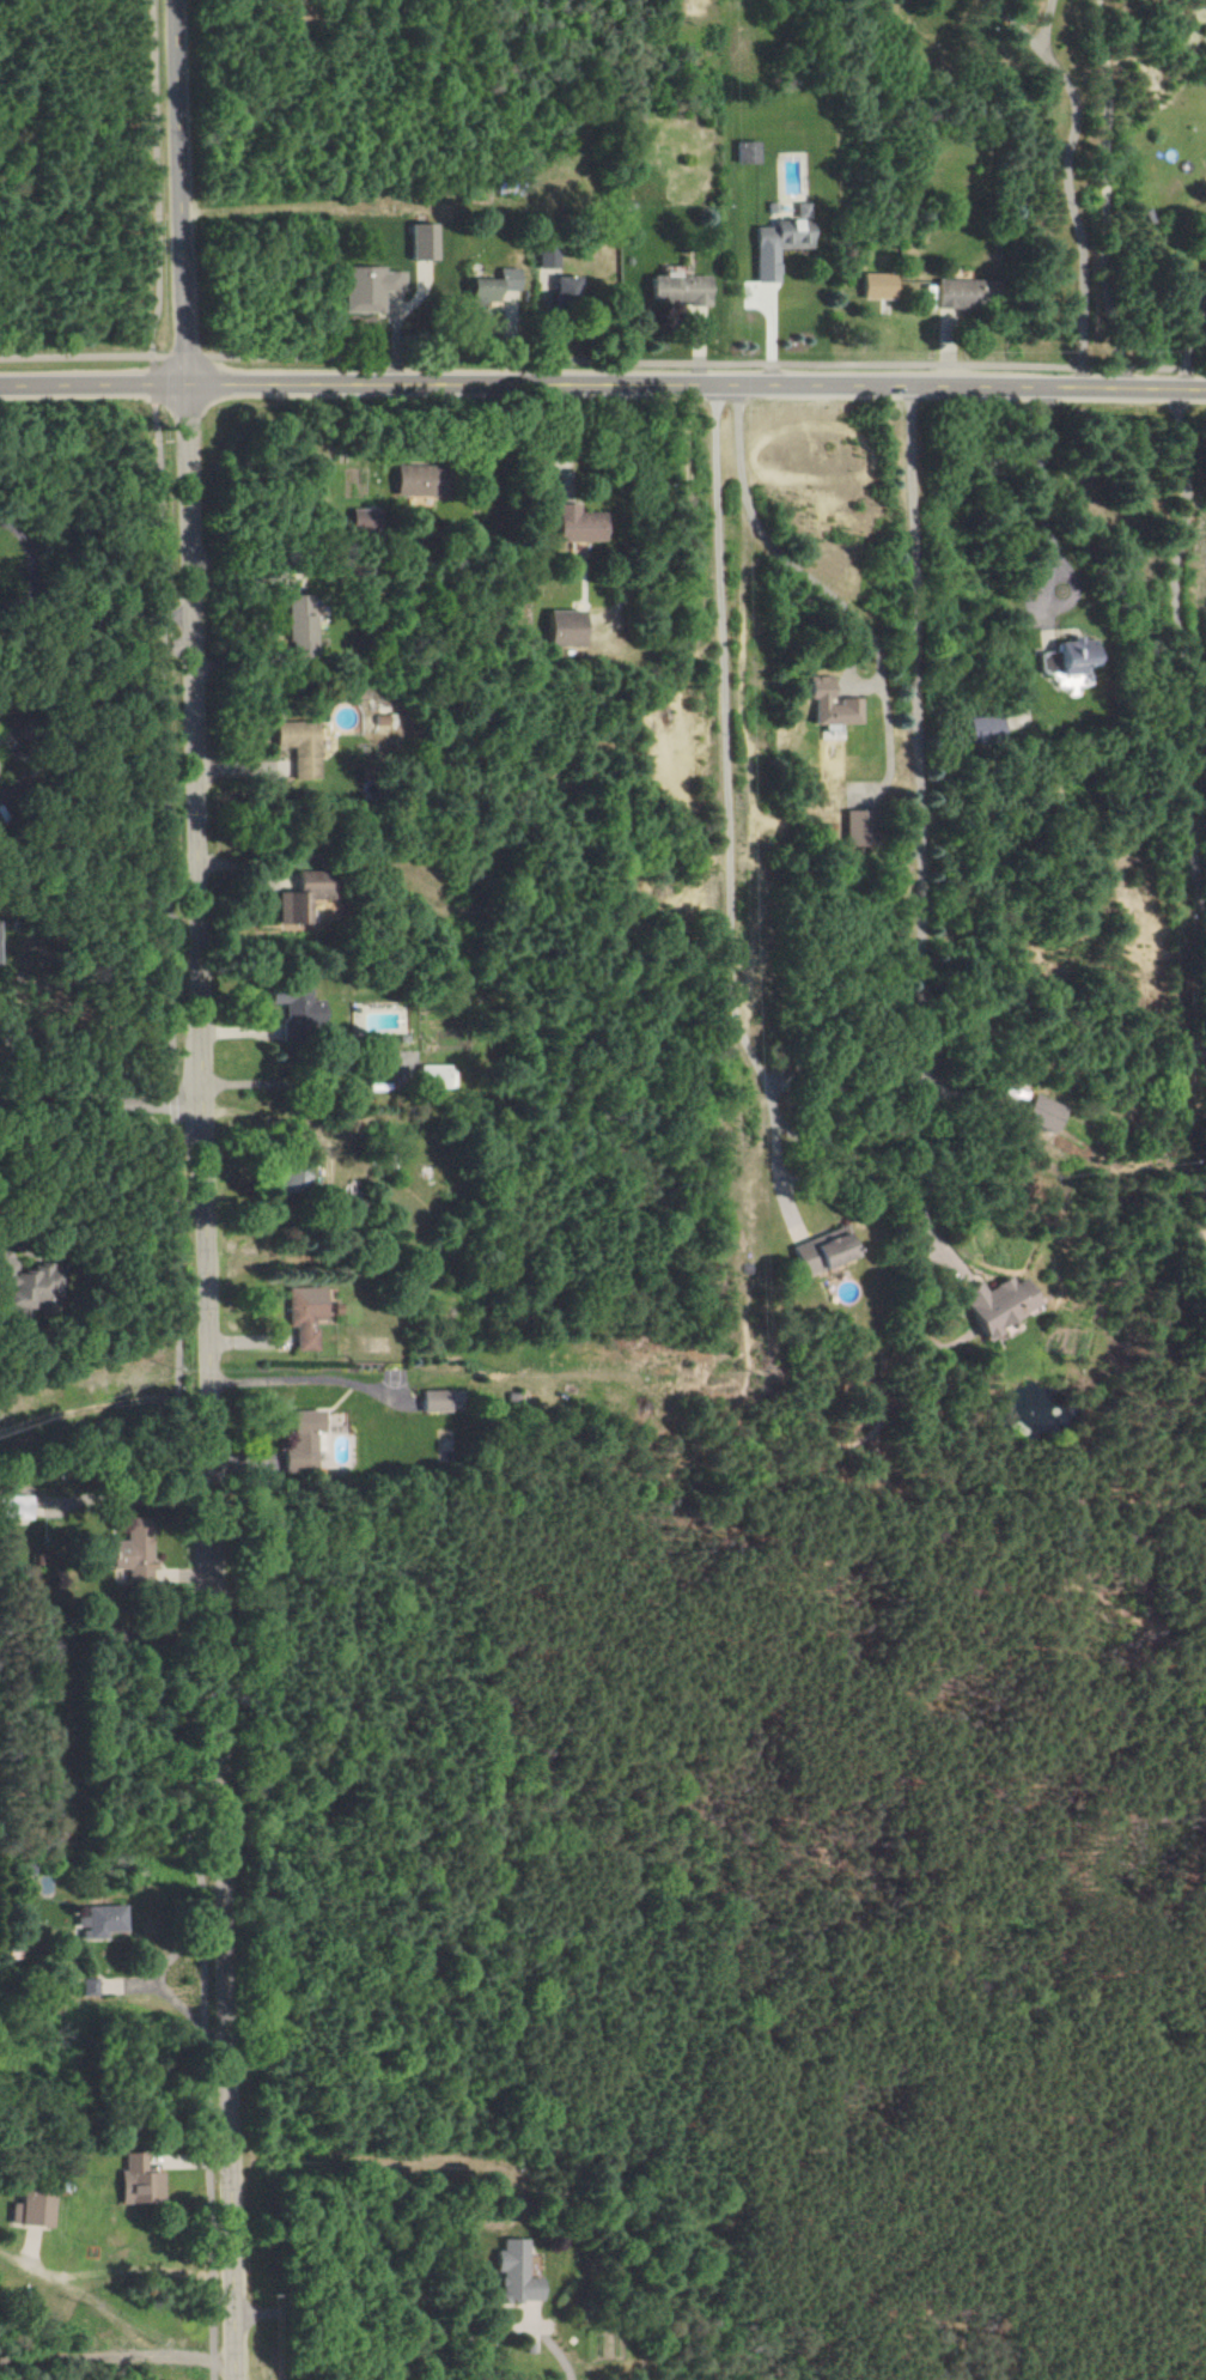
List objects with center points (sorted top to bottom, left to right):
road: (1042, 23)
road: (1015, 24)
building: (743, 152)
road: (1105, 199)
road: (1072, 214)
building: (416, 242)
building: (775, 242)
building: (543, 256)
building: (1201, 263)
building: (873, 286)
building: (488, 287)
building: (559, 287)
building: (366, 289)
building: (671, 289)
building: (954, 293)
road: (602, 360)
road: (603, 387)
building: (475, 480)
building: (410, 481)
road: (1041, 492)
building: (357, 520)
building: (573, 524)
road: (757, 532)
building: (298, 627)
building: (561, 627)
road: (1183, 666)
building: (824, 705)
road: (71, 721)
building: (982, 729)
building: (294, 746)
road: (726, 808)
road: (921, 825)
building: (849, 827)
building: (300, 897)
building: (294, 1004)
road: (1204, 1039)
building: (434, 1076)
road: (102, 1103)
building: (1040, 1113)
road: (41, 1161)
building: (292, 1177)
road: (206, 1190)
road: (178, 1192)
building: (820, 1251)
building: (28, 1283)
building: (992, 1304)
building: (301, 1316)
road: (304, 1378)
building: (432, 1401)
building: (300, 1441)
building: (13, 1507)
building: (133, 1550)
road: (901, 1586)
road: (1132, 1590)
road: (434, 1705)
park: (744, 1908)
building: (103, 1921)
building: (91, 1986)
road: (628, 2023)
road: (1062, 2099)
building: (141, 2181)
building: (36, 2210)
building: (517, 2272)
road: (77, 2289)
road: (974, 2302)
road: (335, 2314)
road: (81, 2356)

